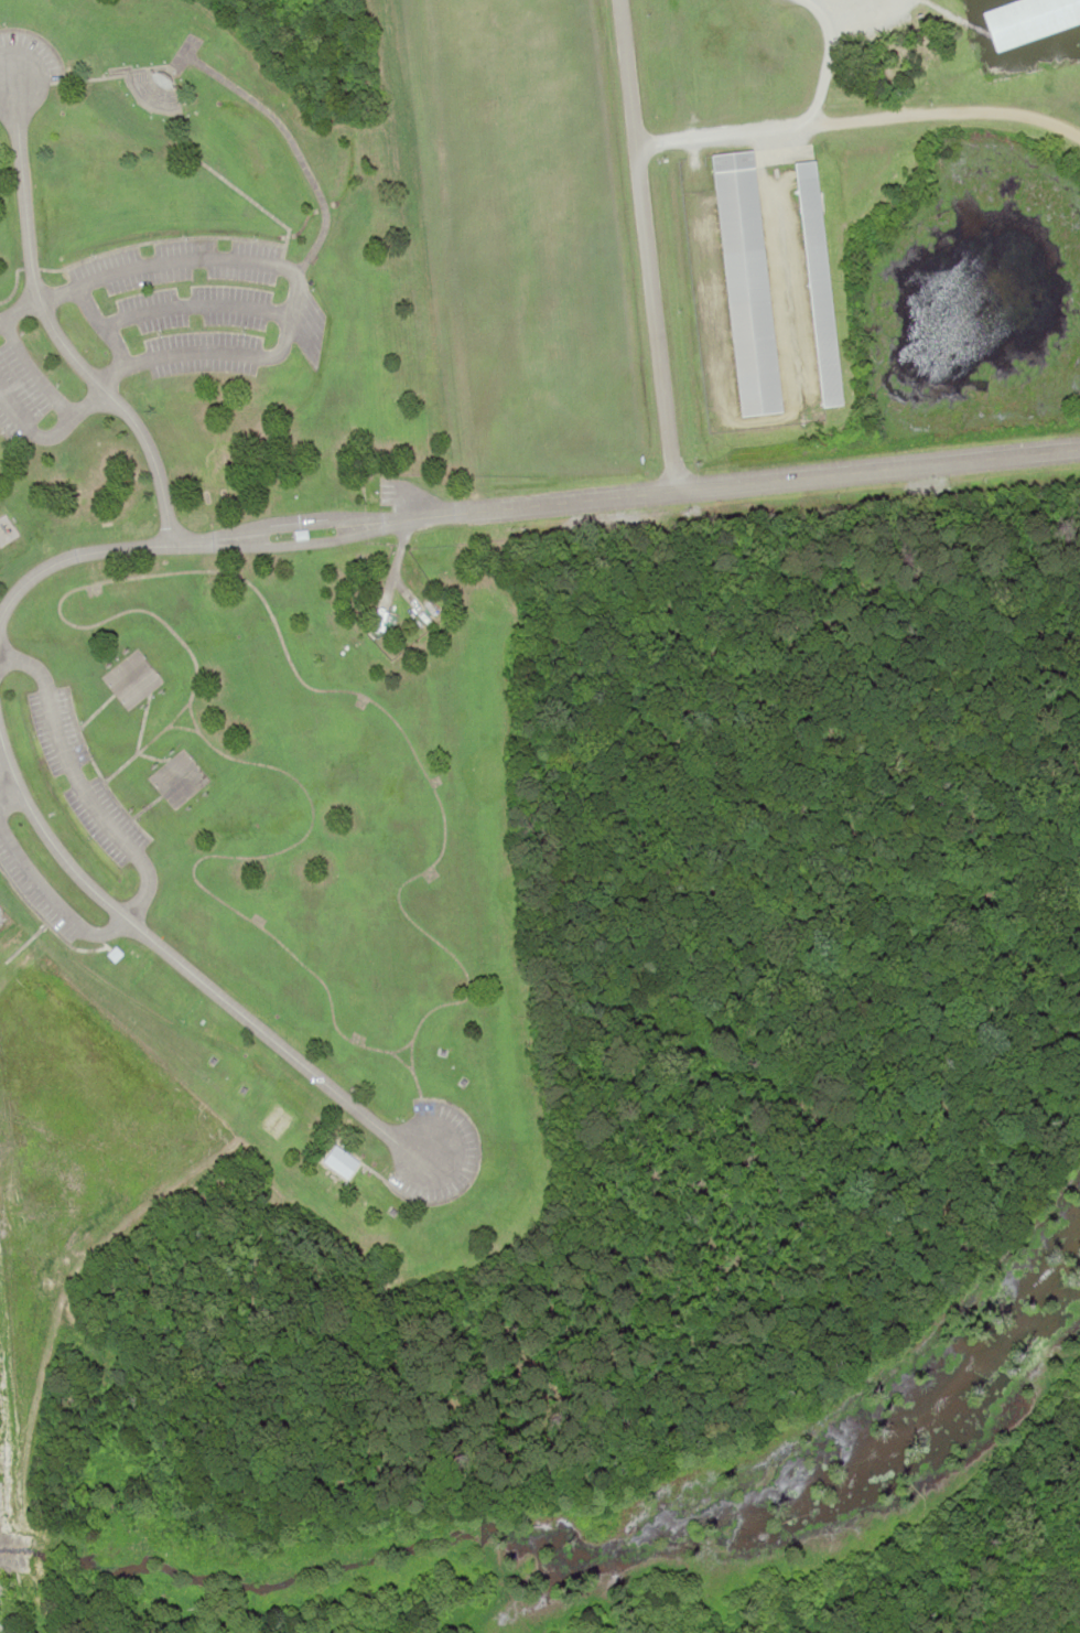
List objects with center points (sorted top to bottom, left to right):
building: (1028, 18)
road: (827, 58)
building: (153, 87)
road: (858, 122)
road: (642, 244)
building: (746, 283)
building: (819, 286)
parking lot: (182, 301)
road: (192, 305)
road: (45, 323)
road: (283, 323)
road: (99, 326)
road: (32, 374)
parking lot: (17, 398)
road: (834, 468)
road: (281, 536)
park: (251, 647)
park: (123, 669)
park: (137, 686)
park: (169, 770)
parking lot: (79, 773)
road: (136, 857)
road: (181, 969)
building: (339, 1161)

